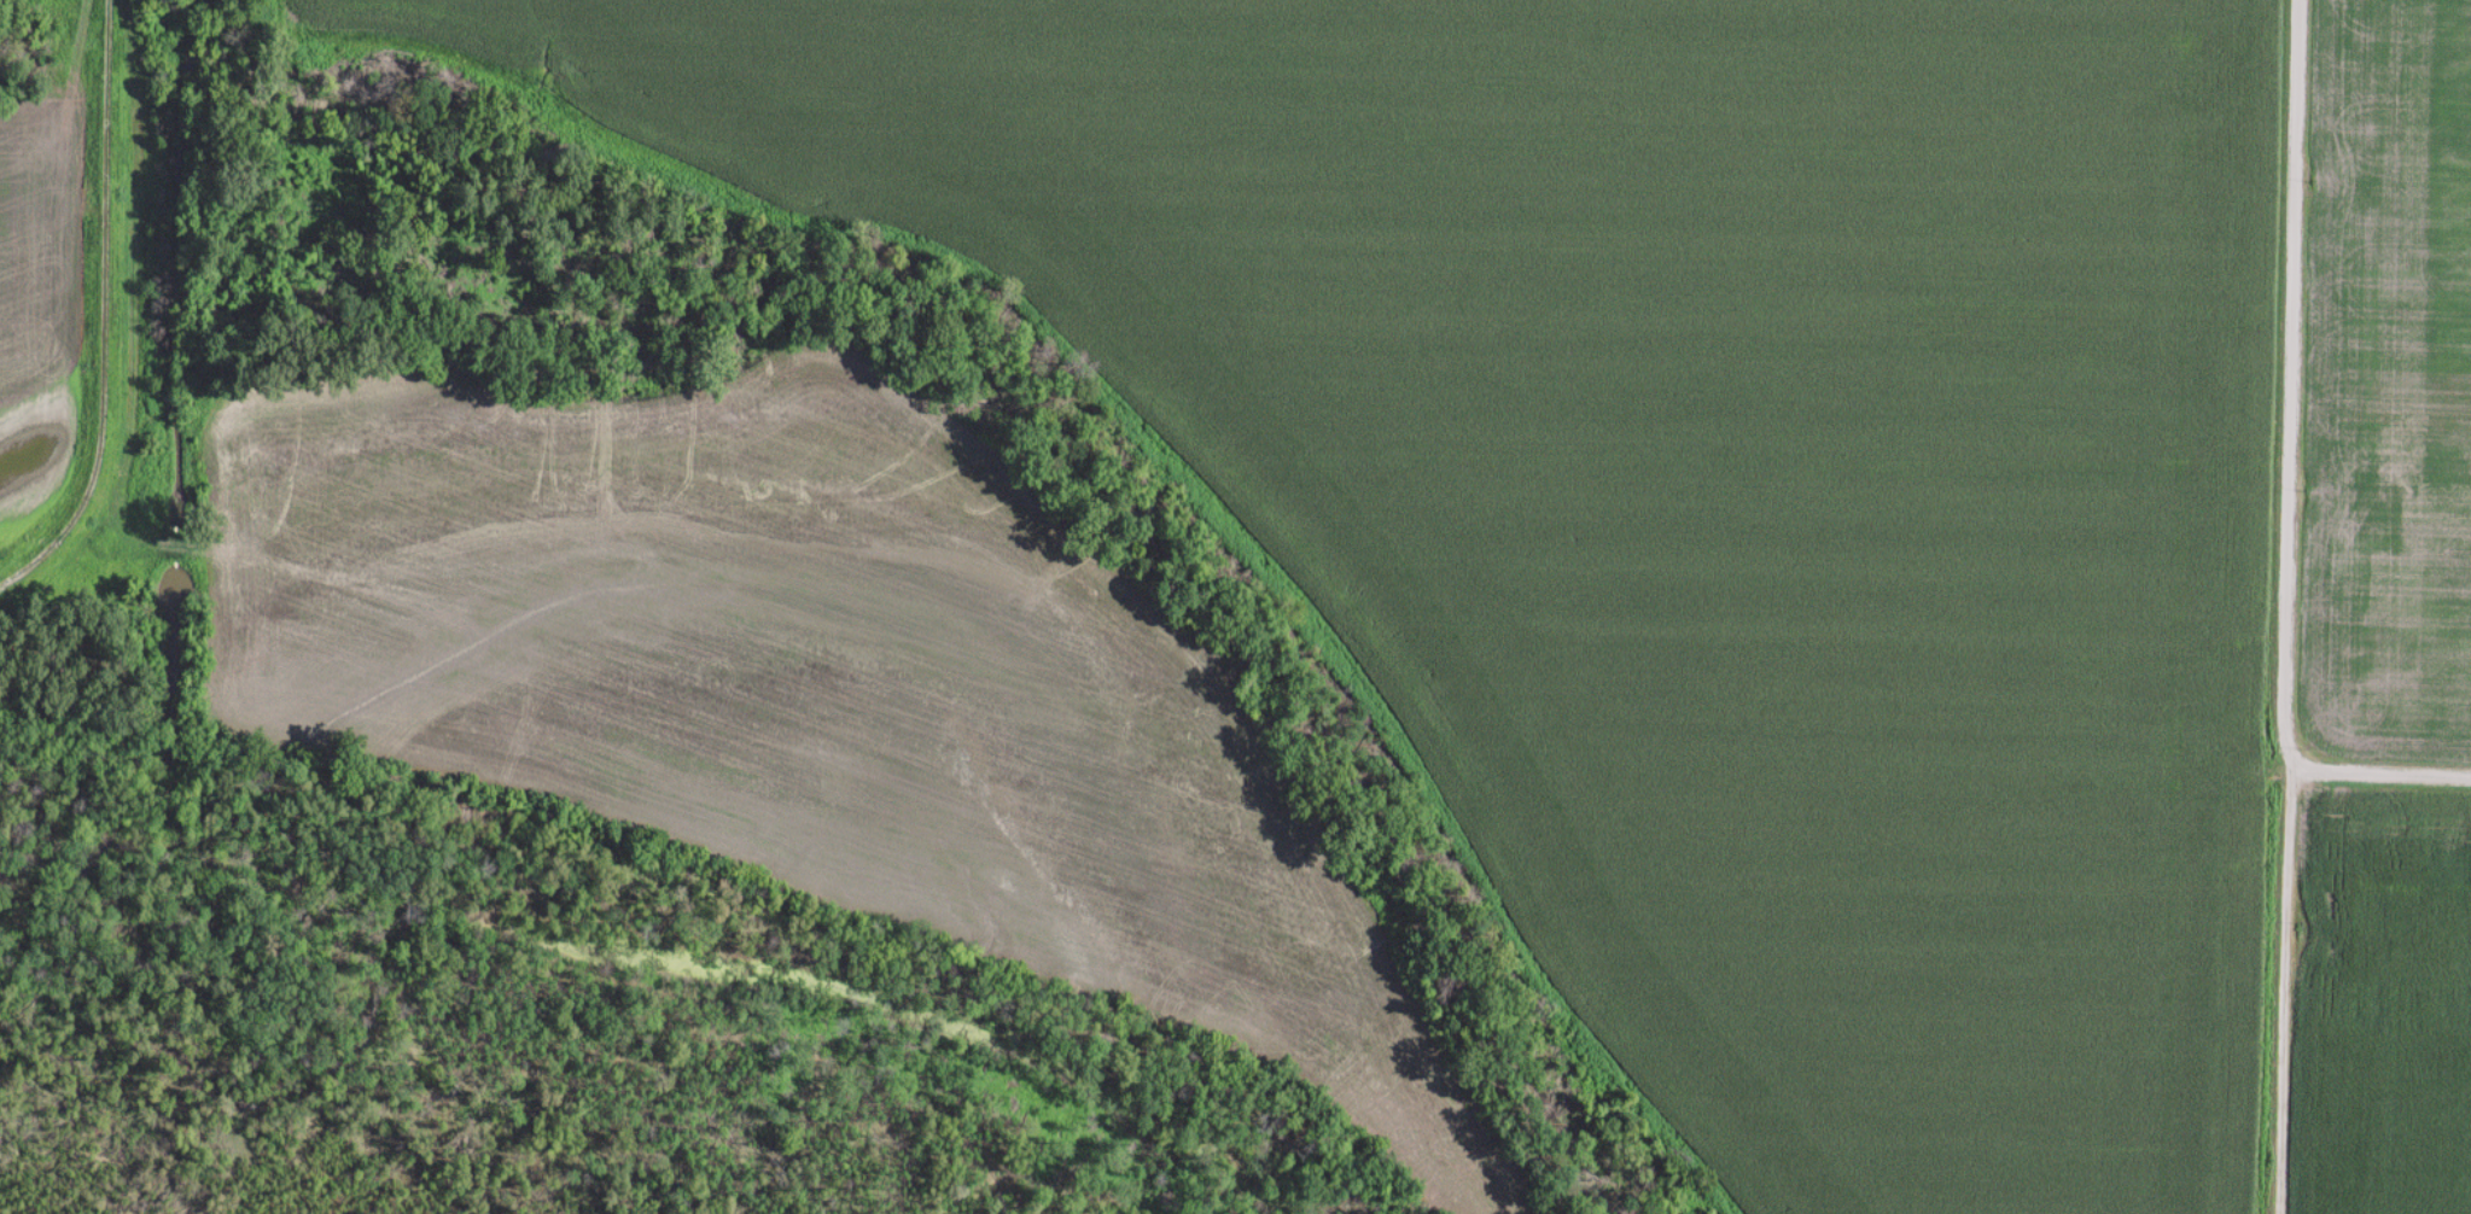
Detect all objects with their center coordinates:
road: (77, 298)
road: (2292, 385)
road: (2379, 775)
road: (2280, 992)

